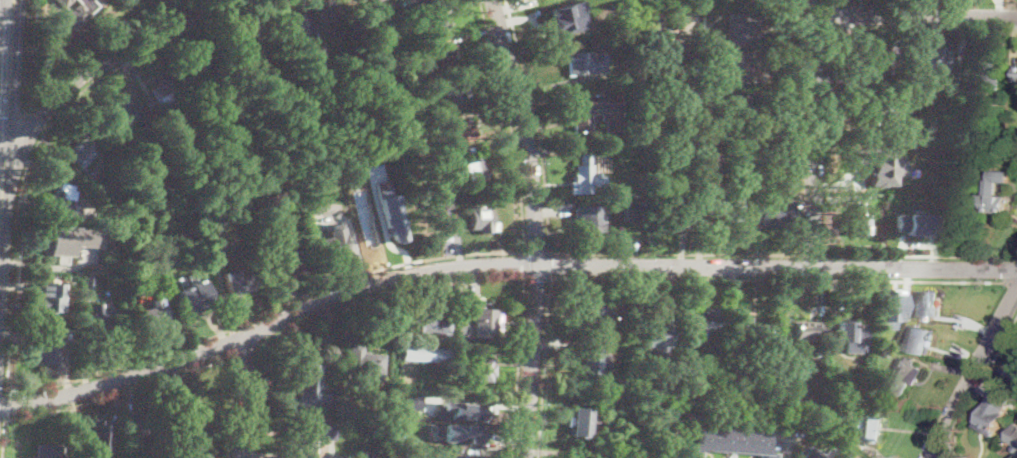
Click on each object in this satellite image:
building: (378, 0)
building: (749, 1)
building: (417, 3)
building: (728, 3)
building: (75, 11)
building: (323, 13)
road: (916, 15)
building: (568, 17)
building: (404, 24)
building: (650, 25)
building: (293, 26)
building: (435, 28)
building: (743, 28)
building: (627, 46)
building: (322, 50)
building: (234, 51)
road: (25, 57)
building: (444, 57)
building: (695, 57)
building: (884, 58)
building: (588, 62)
building: (934, 62)
building: (747, 63)
road: (95, 66)
building: (197, 70)
road: (4, 76)
building: (992, 79)
building: (157, 82)
building: (225, 93)
building: (164, 94)
building: (405, 94)
building: (450, 95)
building: (740, 103)
building: (123, 114)
building: (880, 114)
building: (581, 123)
road: (509, 124)
road: (536, 124)
road: (684, 127)
building: (647, 130)
building: (455, 132)
building: (909, 132)
road: (27, 133)
building: (1016, 133)
road: (813, 134)
building: (1002, 137)
road: (37, 145)
building: (640, 145)
building: (423, 151)
building: (1011, 153)
building: (152, 156)
building: (81, 157)
building: (898, 157)
building: (676, 166)
building: (883, 167)
building: (474, 172)
building: (585, 177)
building: (718, 193)
building: (636, 196)
building: (432, 199)
building: (62, 200)
building: (111, 200)
building: (905, 201)
building: (995, 203)
building: (669, 207)
building: (632, 211)
building: (770, 212)
building: (482, 219)
building: (588, 219)
building: (855, 223)
building: (915, 223)
road: (536, 226)
building: (377, 228)
building: (217, 242)
building: (334, 243)
building: (56, 245)
road: (537, 252)
road: (676, 255)
road: (814, 256)
road: (921, 256)
building: (56, 263)
road: (550, 264)
road: (627, 264)
building: (287, 265)
road: (524, 265)
building: (90, 268)
road: (537, 278)
road: (775, 280)
building: (238, 282)
road: (1009, 282)
building: (89, 285)
road: (420, 287)
building: (49, 296)
building: (195, 297)
building: (927, 303)
road: (264, 312)
building: (153, 315)
building: (594, 317)
building: (892, 317)
building: (102, 319)
building: (416, 319)
building: (475, 324)
building: (702, 324)
building: (922, 328)
building: (850, 331)
building: (750, 333)
building: (654, 335)
building: (802, 335)
building: (443, 337)
building: (883, 341)
road: (248, 349)
building: (48, 350)
building: (883, 353)
building: (427, 354)
building: (590, 359)
building: (366, 363)
road: (543, 367)
building: (475, 369)
road: (975, 371)
road: (126, 375)
building: (902, 376)
building: (309, 381)
road: (978, 388)
road: (122, 391)
road: (246, 395)
building: (409, 396)
building: (330, 399)
building: (784, 400)
road: (6, 405)
road: (233, 406)
building: (462, 411)
building: (996, 411)
road: (740, 414)
building: (810, 414)
building: (580, 422)
building: (142, 424)
building: (868, 427)
building: (463, 433)
building: (192, 434)
building: (314, 435)
building: (1013, 435)
building: (101, 436)
road: (4, 438)
building: (731, 443)
building: (48, 451)
building: (373, 453)
building: (823, 453)
road: (939, 455)
building: (421, 457)
building: (472, 457)

